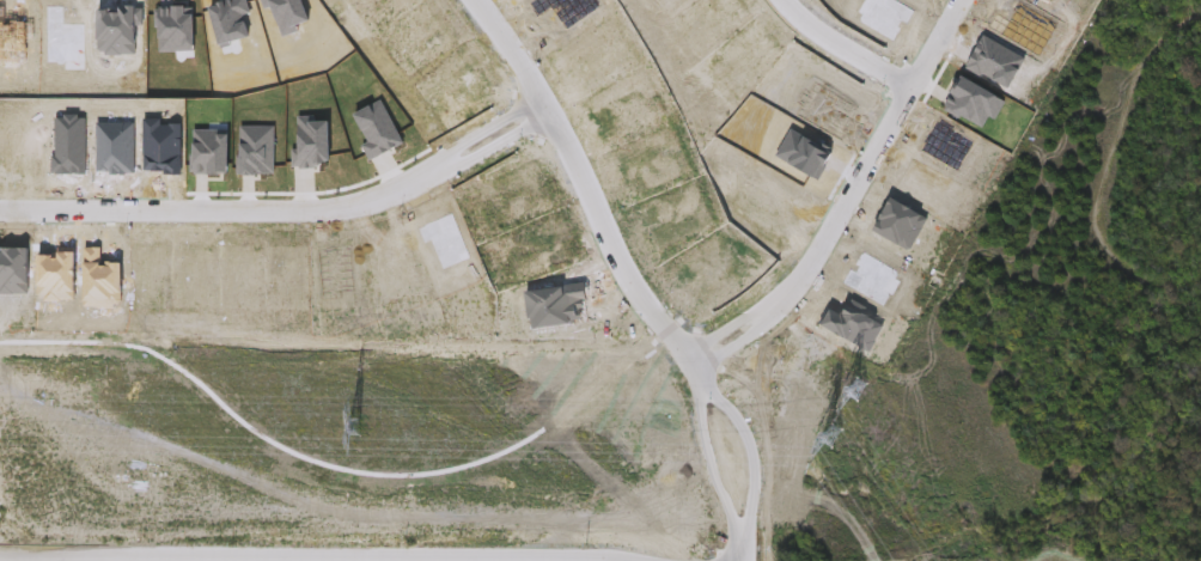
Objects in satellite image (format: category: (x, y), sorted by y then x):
road: (937, 49)
road: (837, 51)
road: (1109, 163)
road: (281, 221)
road: (822, 257)
road: (624, 272)
power tower: (352, 426)
power tower: (835, 429)
road: (115, 559)

